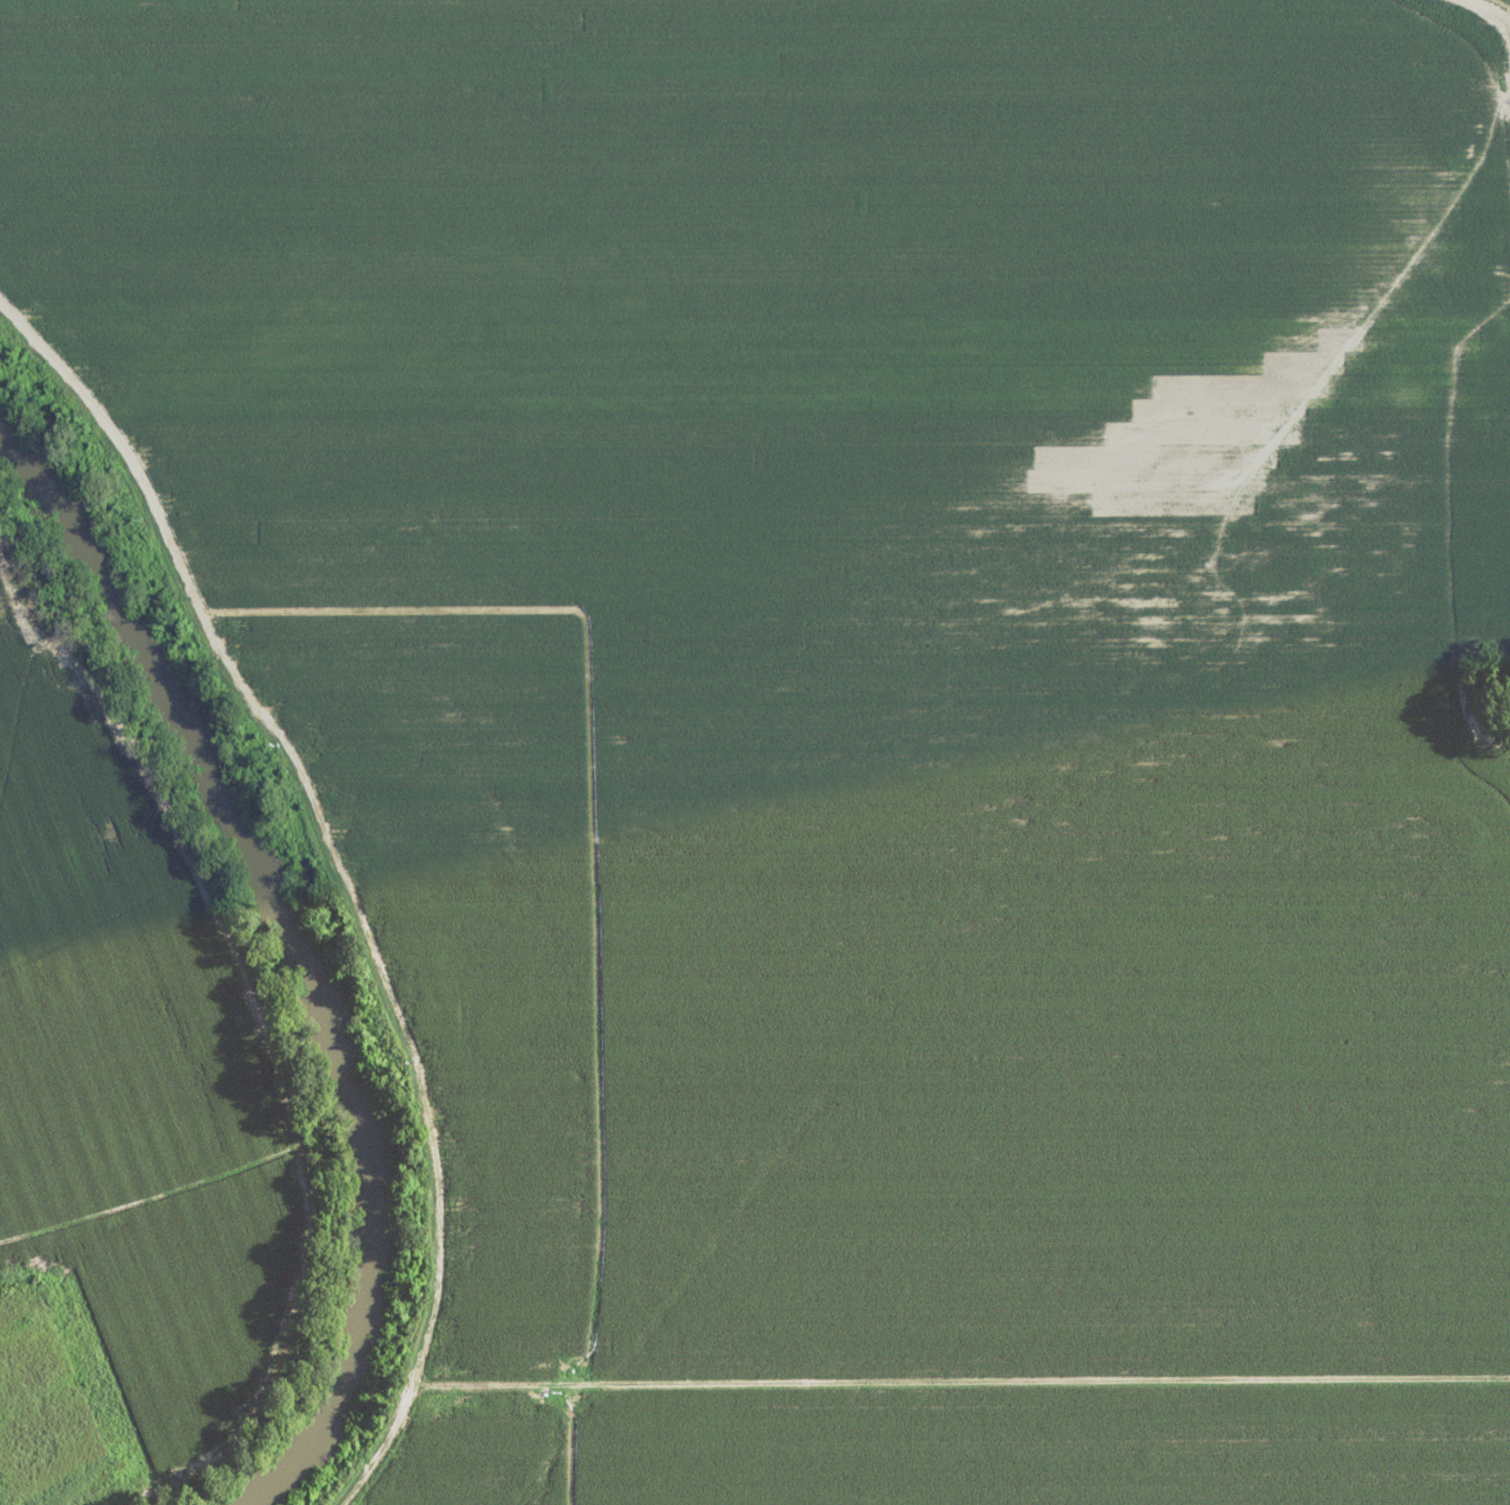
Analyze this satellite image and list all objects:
road: (340, 882)
river: (290, 960)
road: (961, 1382)

